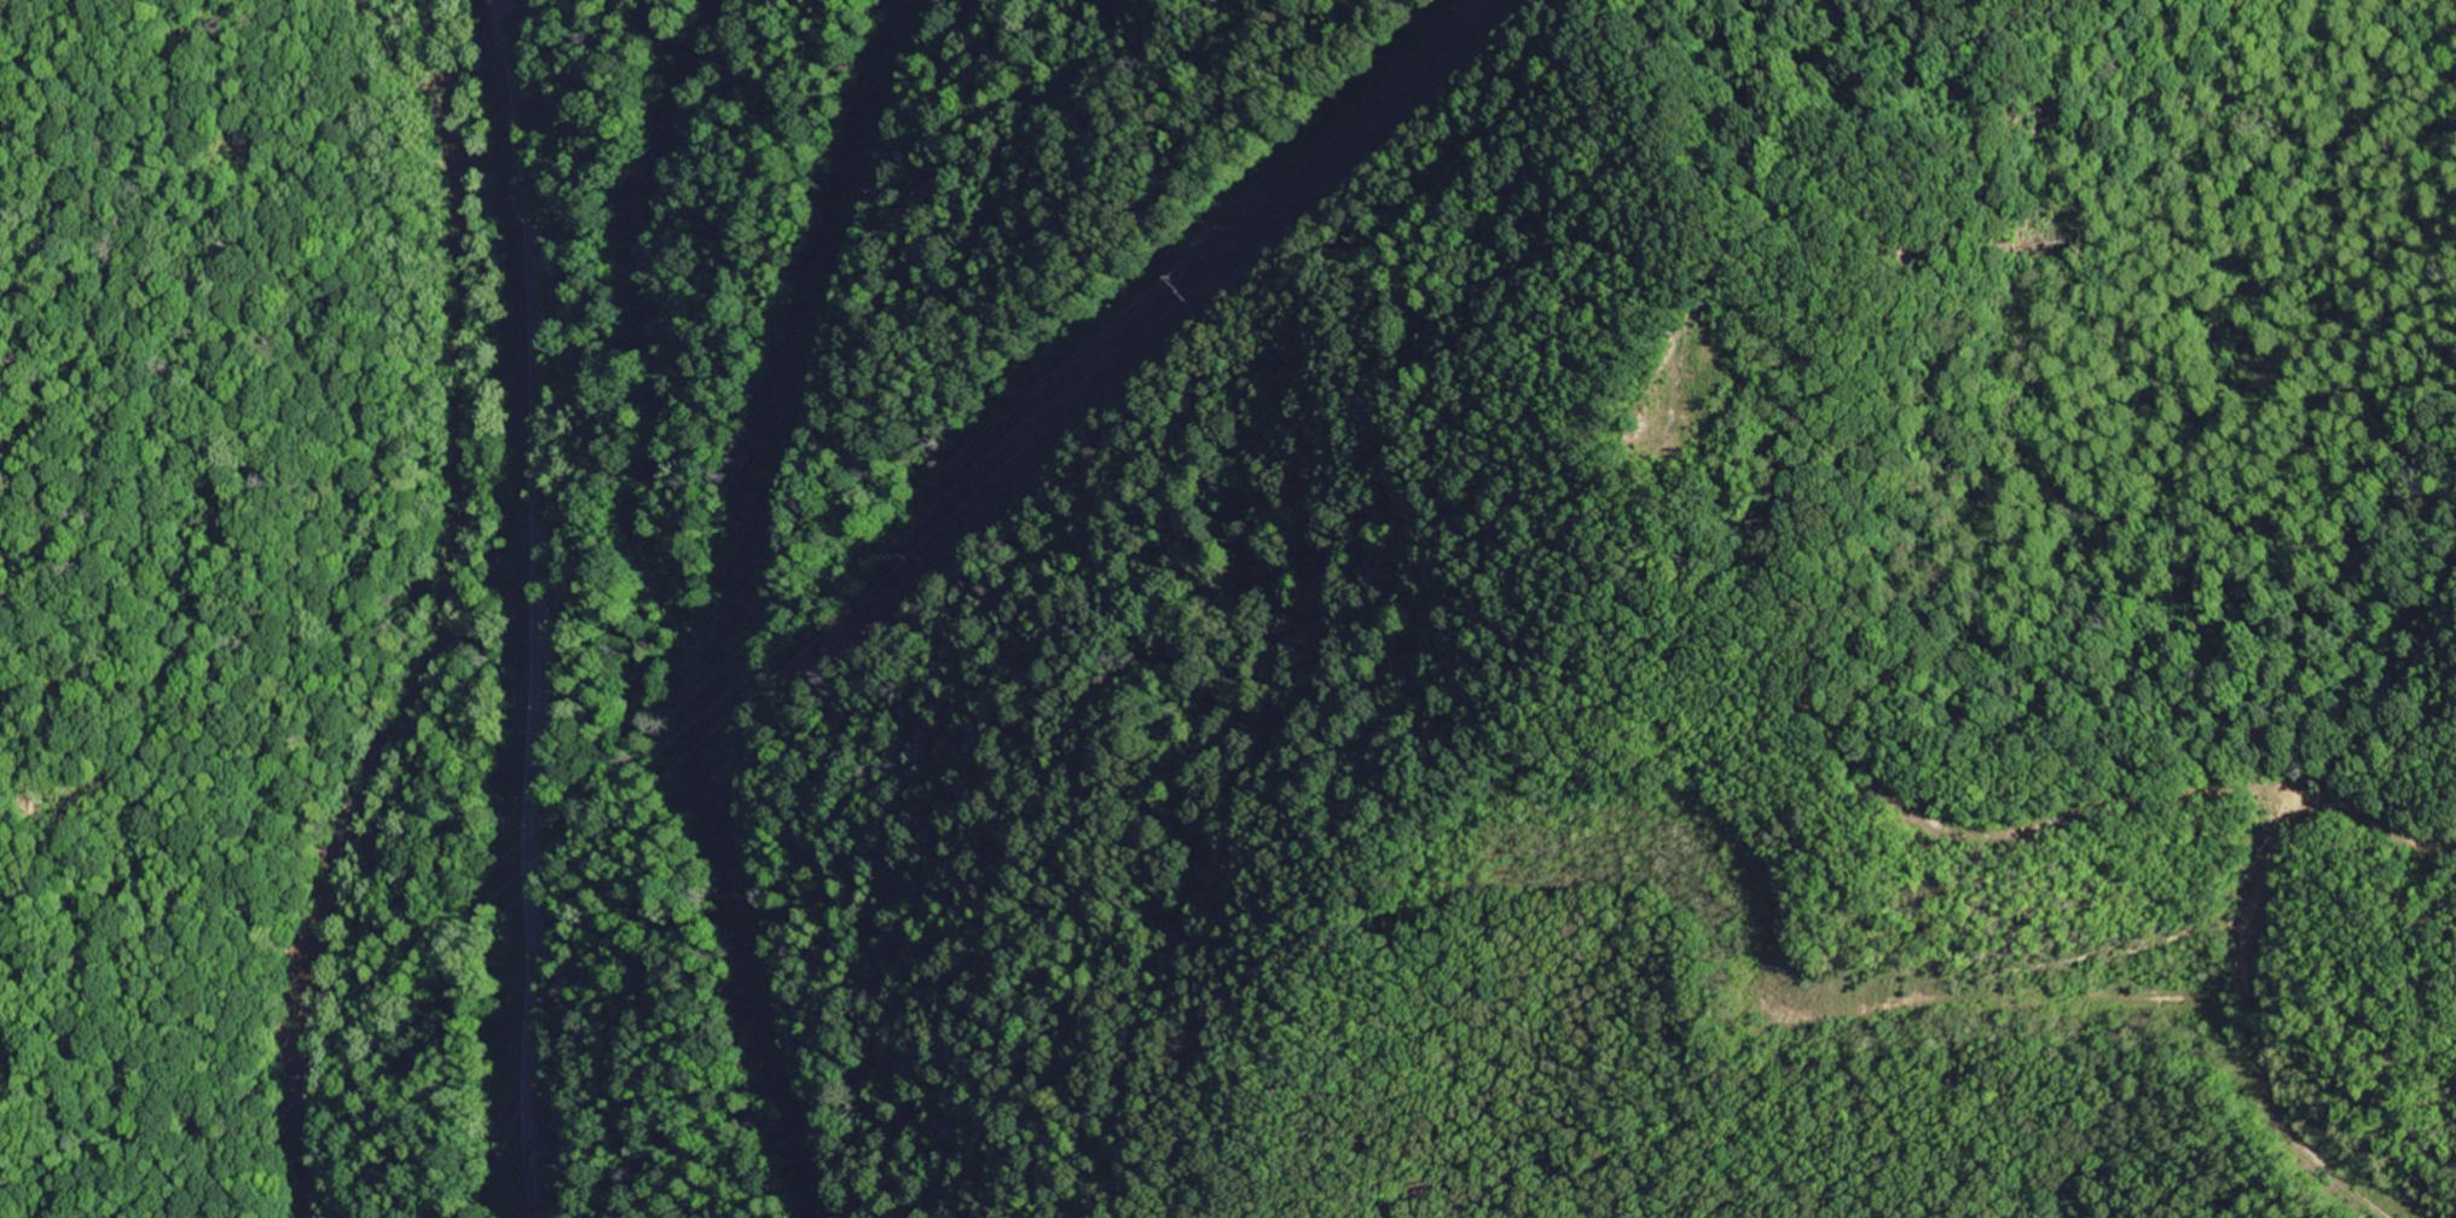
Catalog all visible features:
road: (546, 608)

